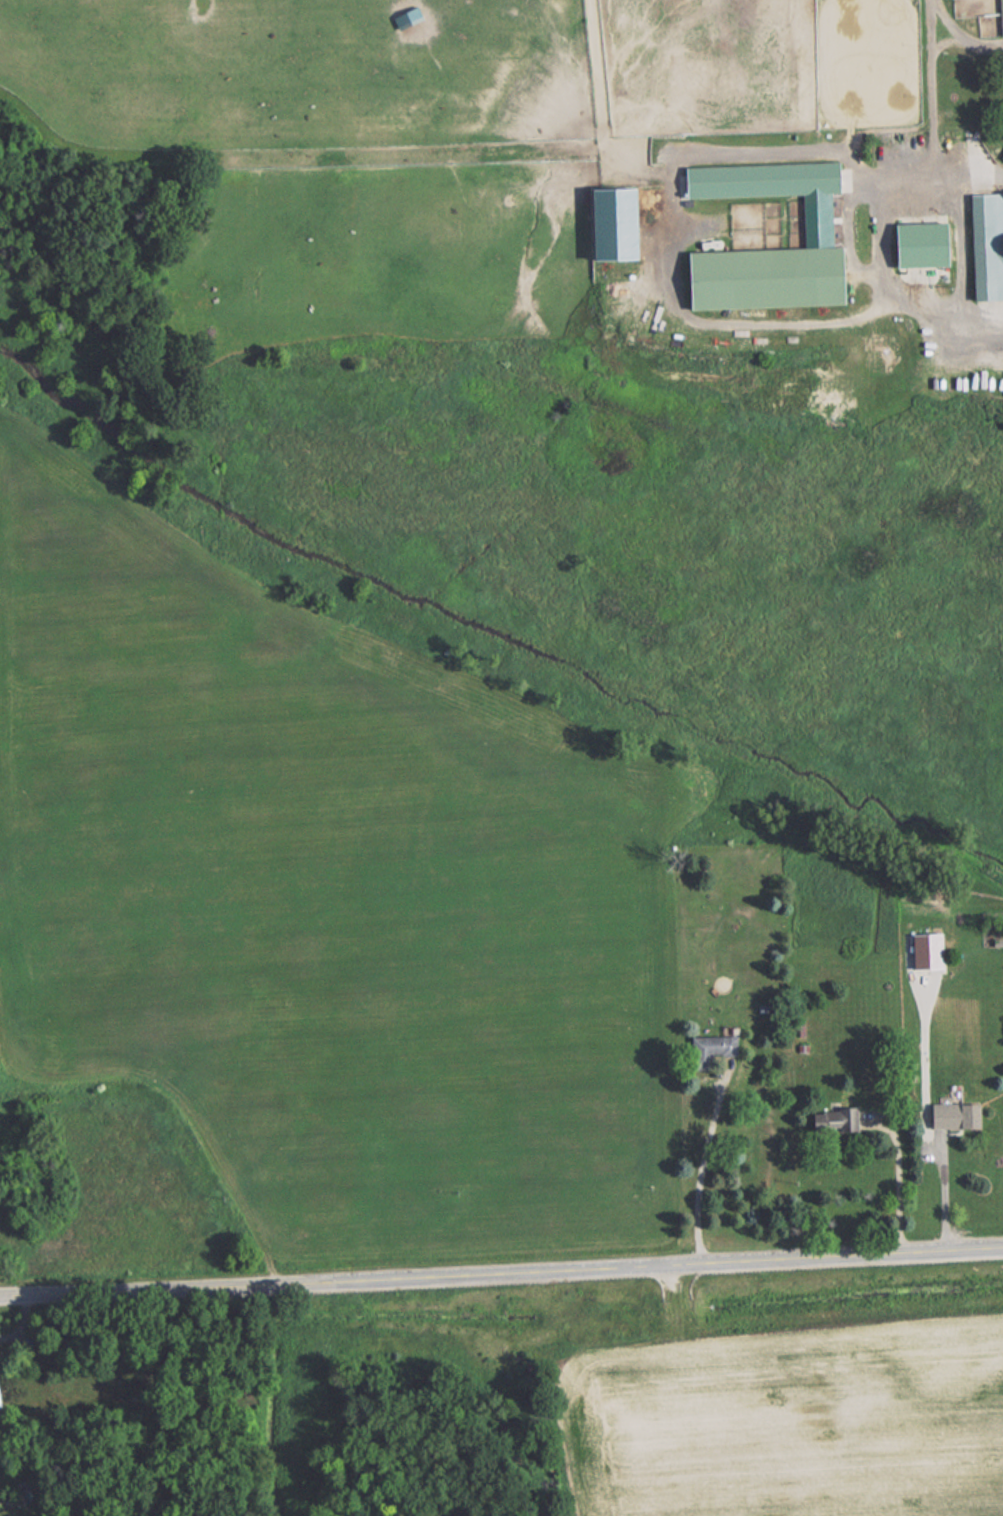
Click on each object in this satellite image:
building: (982, 14)
road: (965, 30)
building: (1001, 152)
road: (830, 167)
building: (758, 179)
building: (607, 223)
building: (920, 239)
building: (986, 245)
road: (877, 264)
building: (760, 277)
building: (708, 1047)
building: (951, 1115)
road: (701, 1166)
road: (900, 1183)
road: (945, 1194)
road: (501, 1273)
building: (2, 1401)

